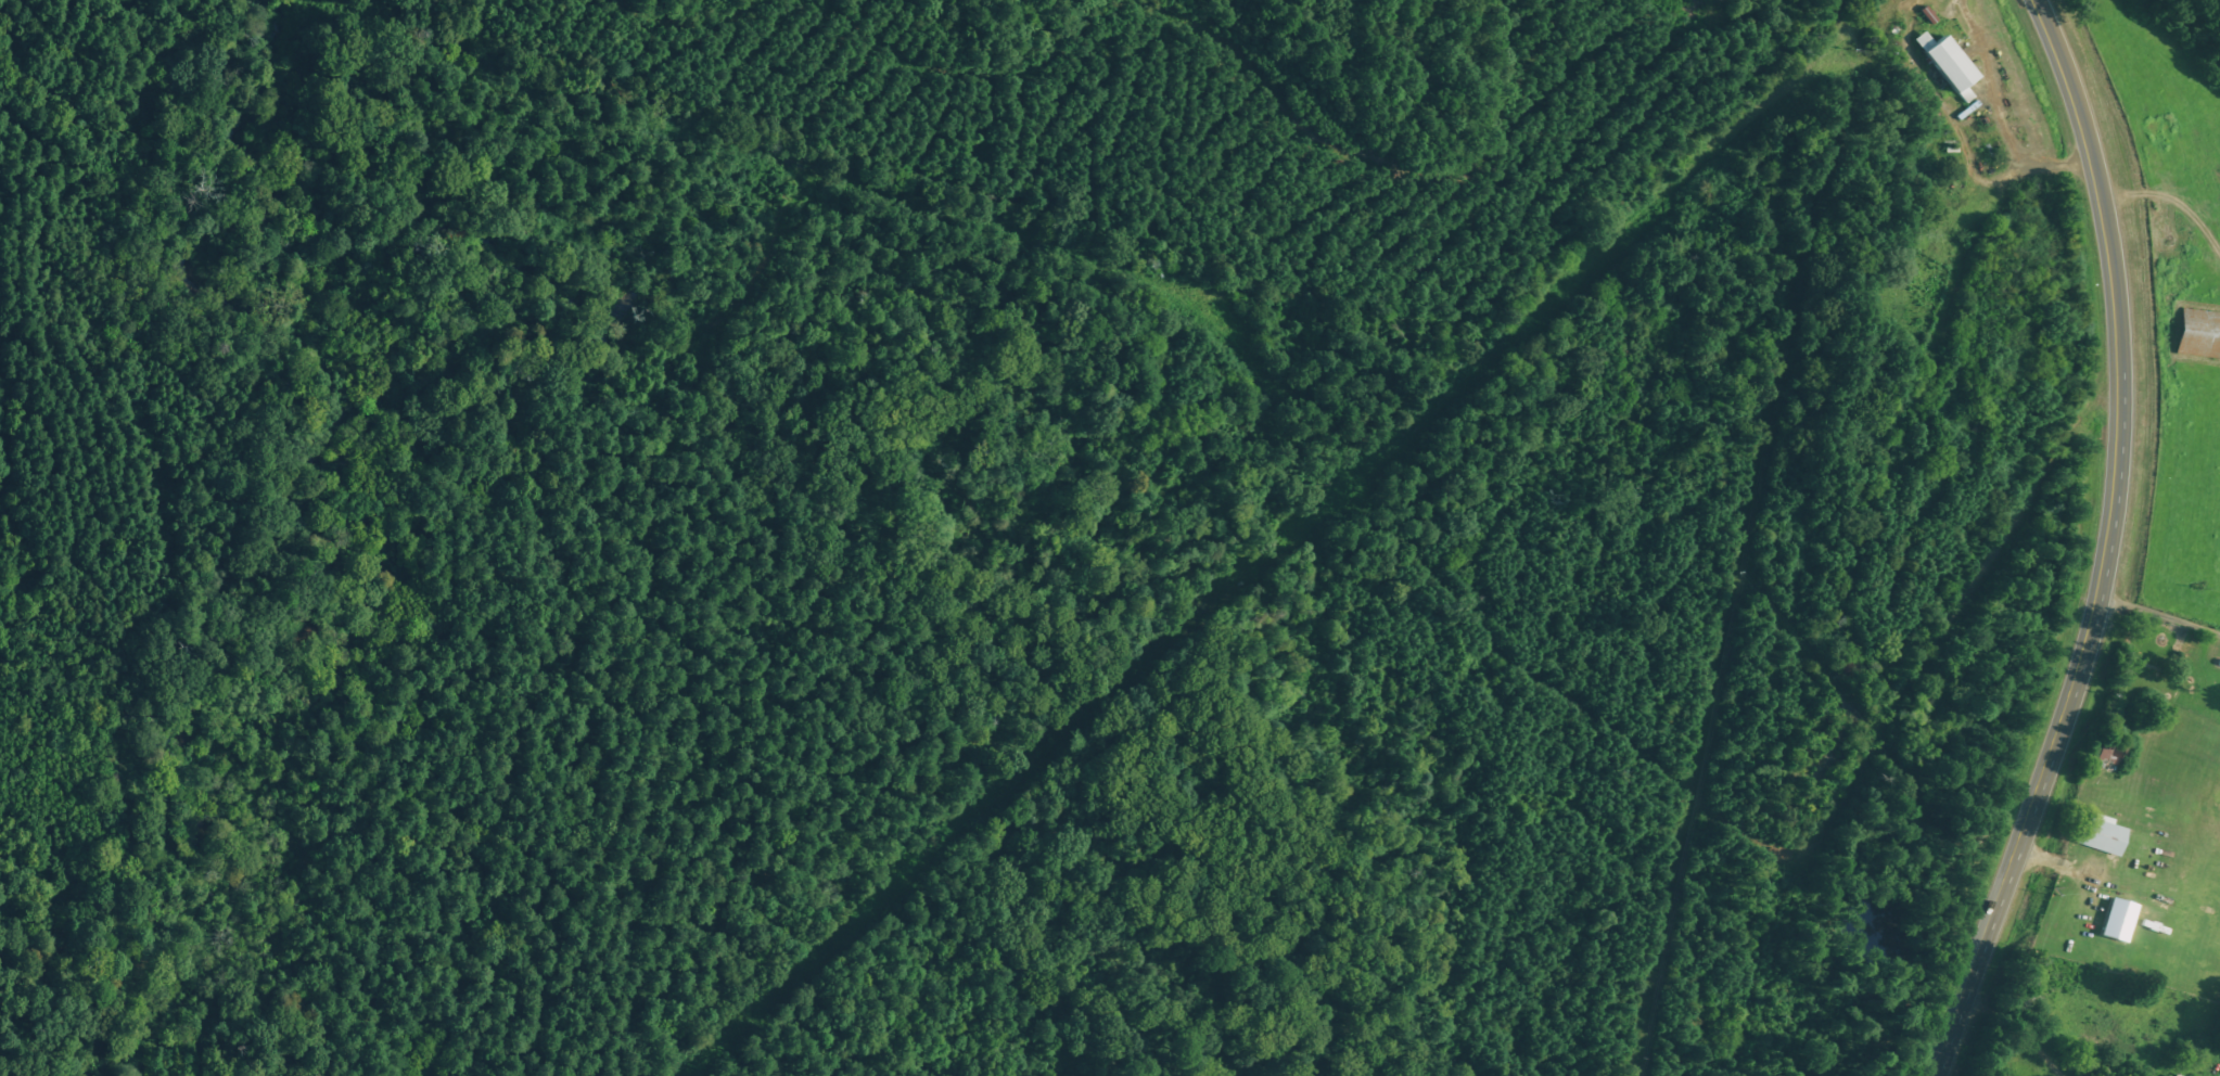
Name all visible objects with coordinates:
building: (1951, 65)
park: (1900, 291)
building: (2200, 334)
road: (2109, 545)
road: (2004, 547)
road: (2158, 640)
building: (2110, 755)
building: (2103, 835)
building: (2121, 920)

